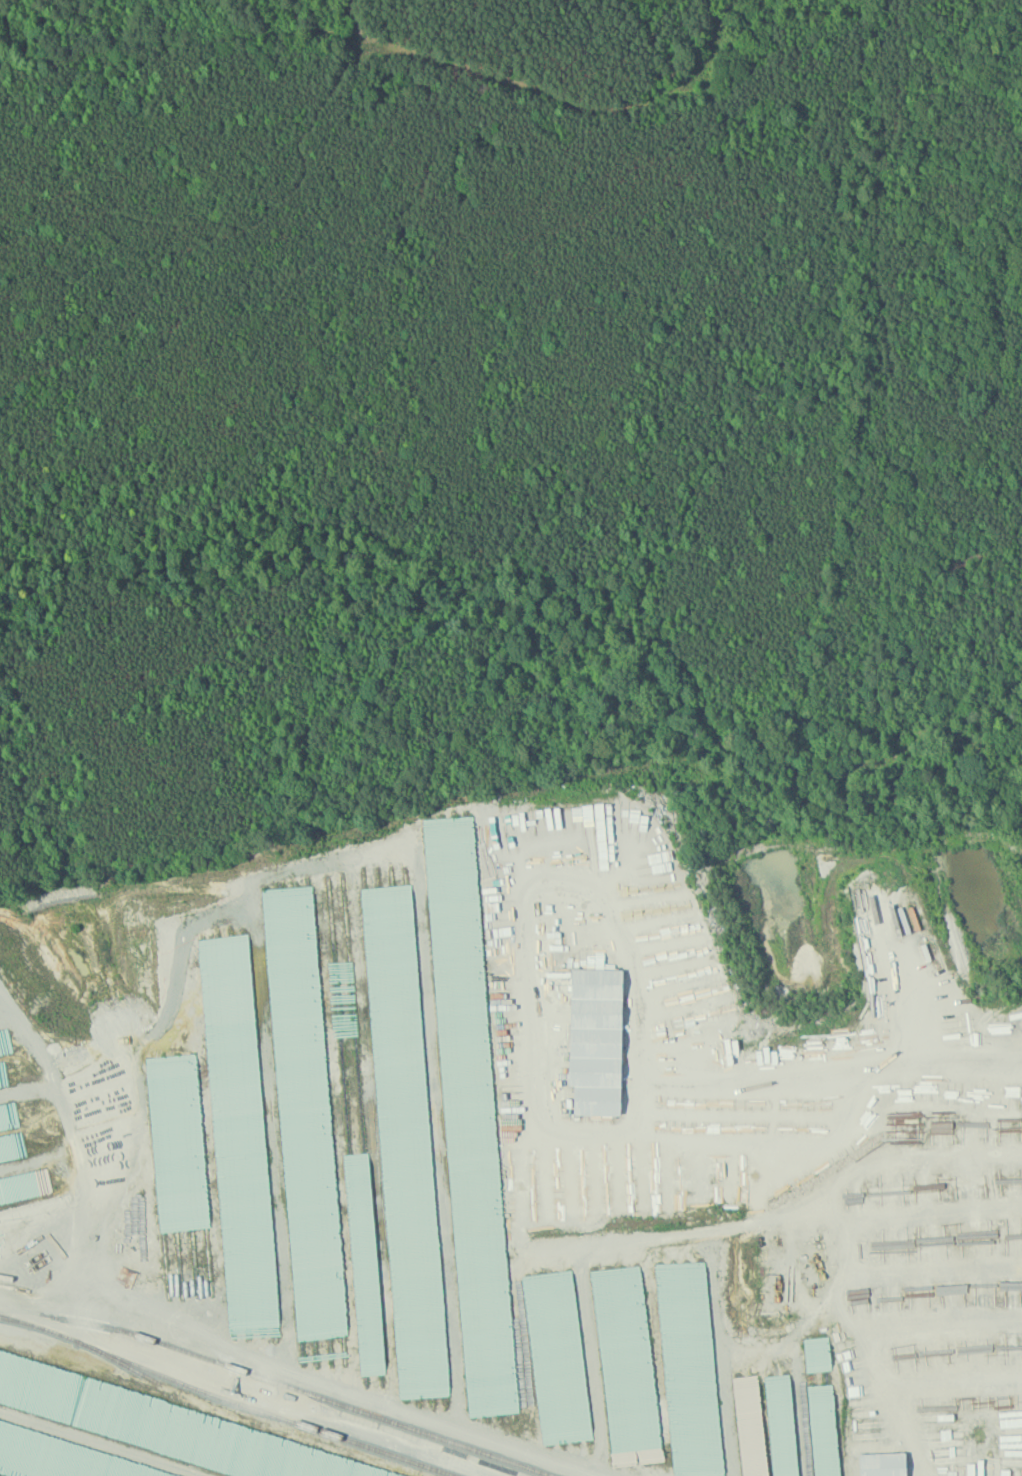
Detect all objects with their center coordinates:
building: (593, 1040)
road: (790, 1210)
railway: (29, 1314)
railway: (129, 1365)
railway: (307, 1391)
railway: (227, 1398)
building: (880, 1464)

